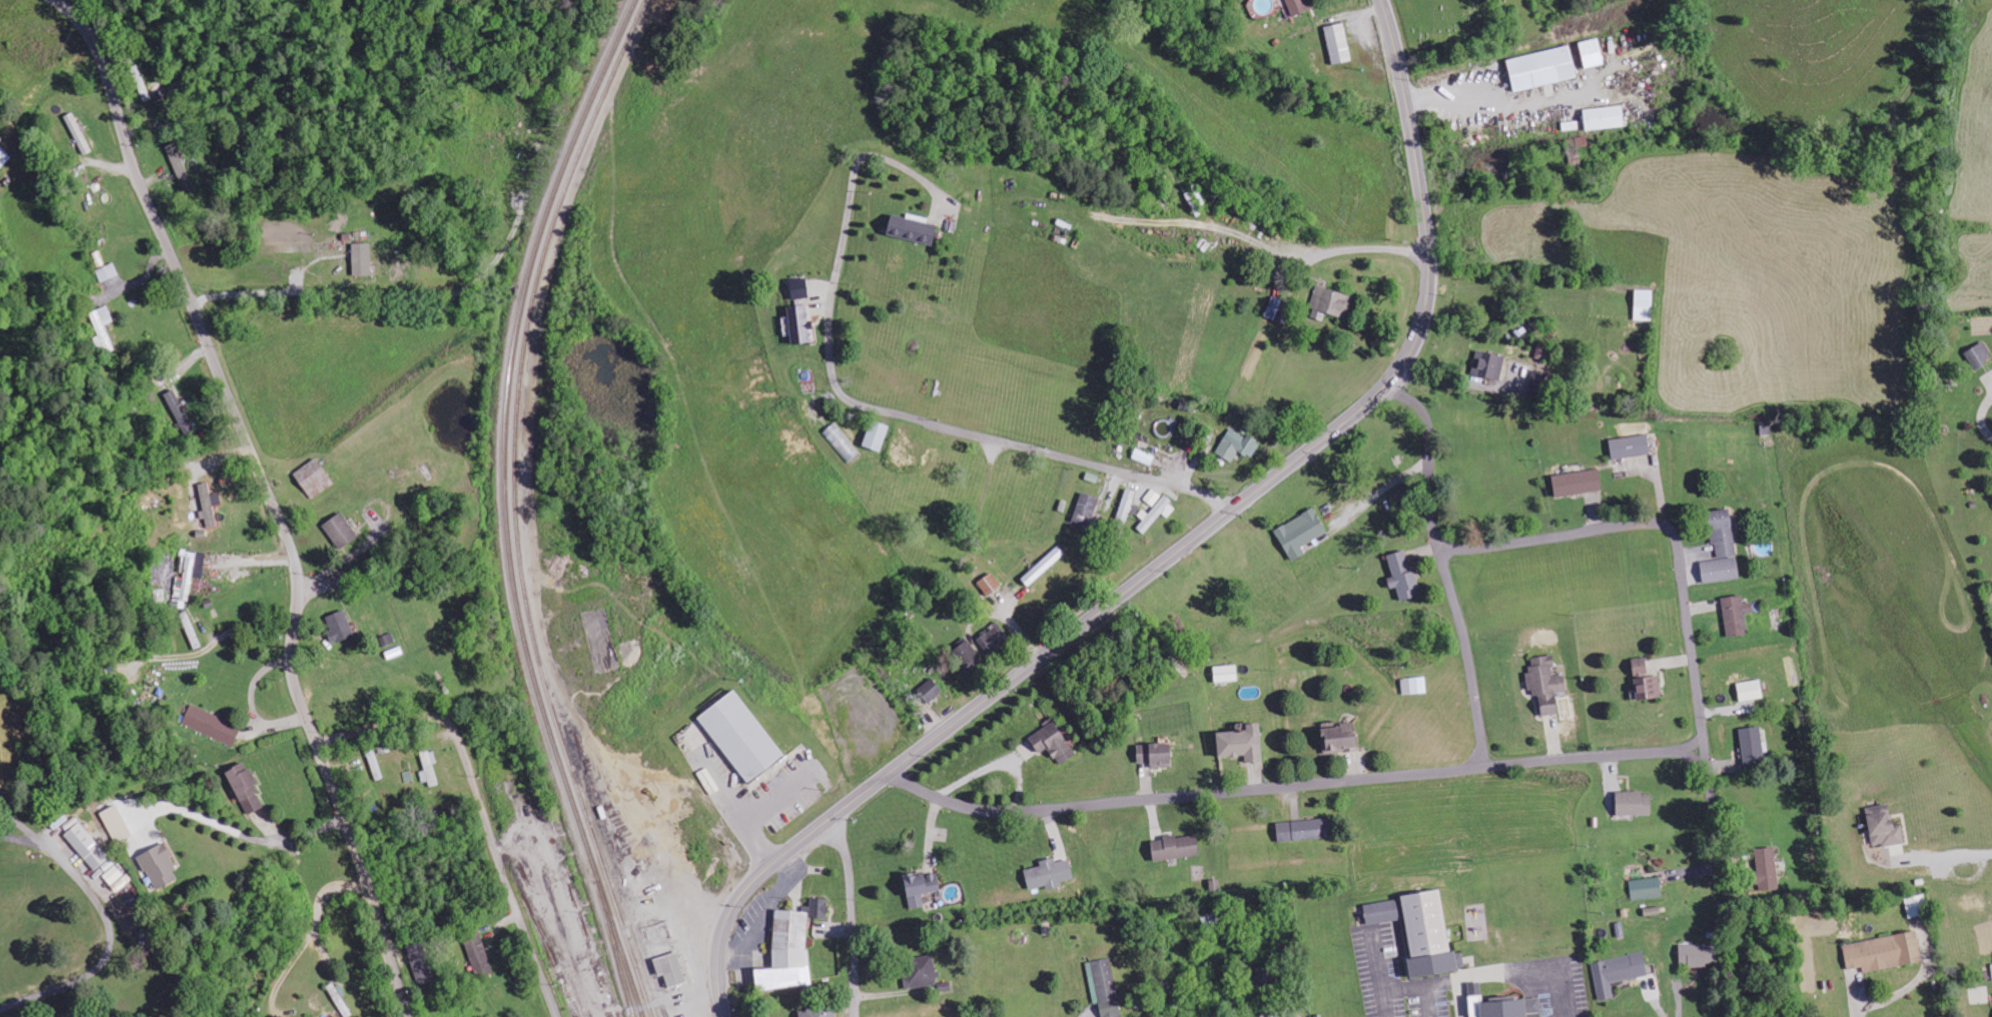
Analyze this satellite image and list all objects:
building: (1302, 6)
building: (1340, 44)
building: (1594, 53)
building: (1544, 68)
building: (1606, 118)
building: (79, 133)
building: (1, 139)
building: (4, 157)
building: (181, 167)
building: (914, 230)
building: (362, 259)
building: (108, 272)
building: (801, 288)
building: (1331, 304)
building: (1645, 304)
building: (1274, 307)
building: (801, 325)
building: (103, 328)
building: (1543, 351)
building: (1980, 355)
building: (1490, 363)
building: (180, 412)
building: (877, 435)
building: (842, 441)
building: (1238, 444)
road: (1020, 446)
building: (1632, 446)
building: (1145, 456)
building: (314, 477)
building: (1579, 482)
road: (270, 493)
building: (1154, 496)
building: (208, 504)
building: (1128, 504)
railway: (508, 507)
railway: (518, 507)
building: (1087, 510)
building: (1157, 513)
road: (1660, 524)
building: (341, 530)
building: (1302, 532)
building: (1723, 547)
road: (1172, 556)
building: (1045, 565)
road: (1444, 567)
building: (1404, 575)
building: (189, 576)
building: (991, 583)
building: (1738, 614)
building: (340, 626)
building: (191, 629)
building: (994, 638)
building: (967, 653)
building: (1642, 666)
building: (1228, 672)
building: (1547, 683)
building: (1415, 685)
building: (1650, 687)
building: (1752, 689)
building: (931, 690)
building: (212, 725)
building: (743, 736)
building: (1342, 737)
building: (1054, 740)
building: (1244, 742)
building: (1754, 745)
building: (1157, 754)
road: (1591, 755)
building: (376, 767)
building: (430, 767)
building: (246, 788)
road: (1181, 796)
building: (1636, 803)
road: (482, 806)
road: (1712, 806)
building: (117, 823)
building: (1886, 826)
building: (1305, 829)
building: (88, 845)
building: (1177, 847)
building: (160, 866)
building: (1769, 868)
building: (1051, 873)
building: (115, 875)
building: (923, 886)
building: (1647, 888)
building: (1918, 905)
building: (1384, 911)
road: (852, 915)
road: (107, 920)
building: (1431, 934)
building: (793, 946)
building: (1886, 952)
building: (1700, 954)
building: (480, 955)
railway: (619, 958)
building: (421, 960)
building: (672, 968)
building: (921, 971)
building: (1618, 972)
building: (1105, 987)
building: (341, 999)
building: (1502, 1005)
railway: (664, 1011)
building: (820, 1012)

